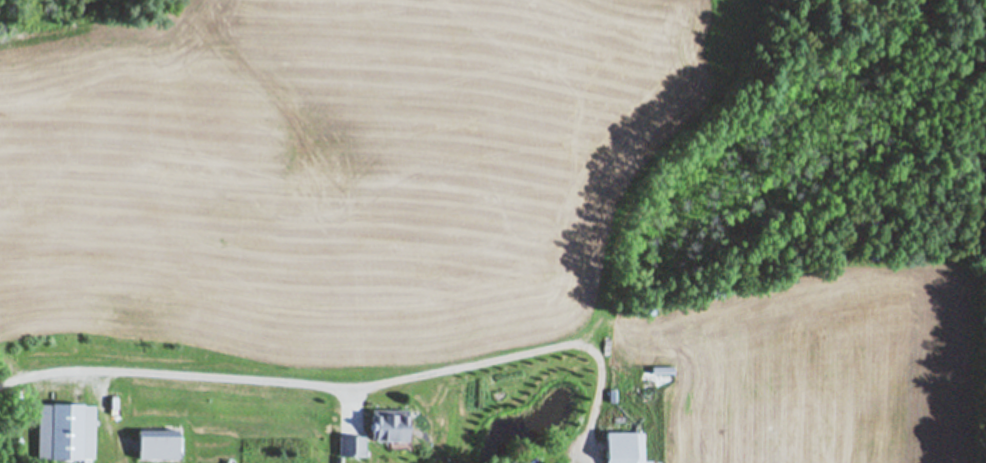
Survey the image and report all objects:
road: (344, 387)
building: (388, 422)
building: (71, 428)
building: (350, 443)
building: (623, 446)

